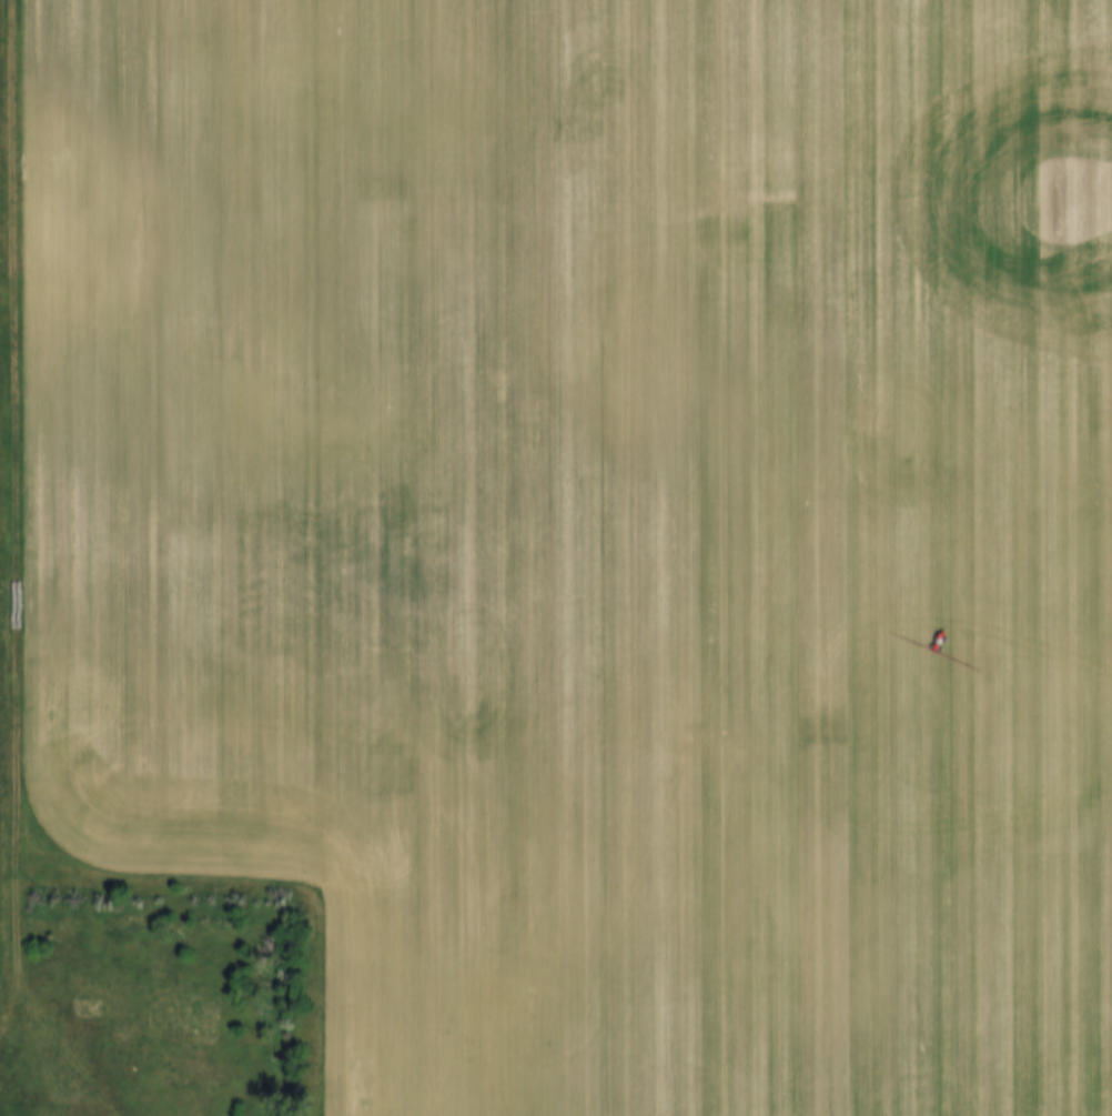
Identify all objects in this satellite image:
road: (21, 574)

